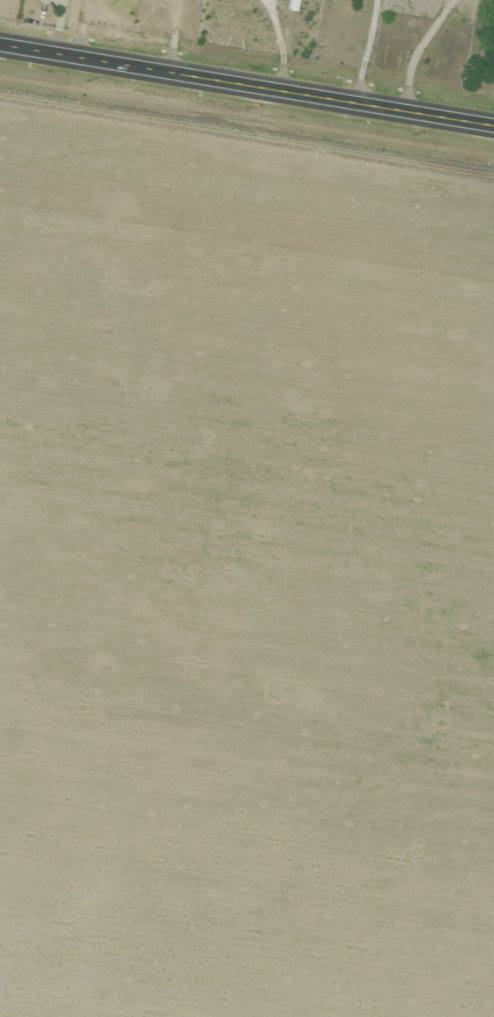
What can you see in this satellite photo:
road: (247, 84)

